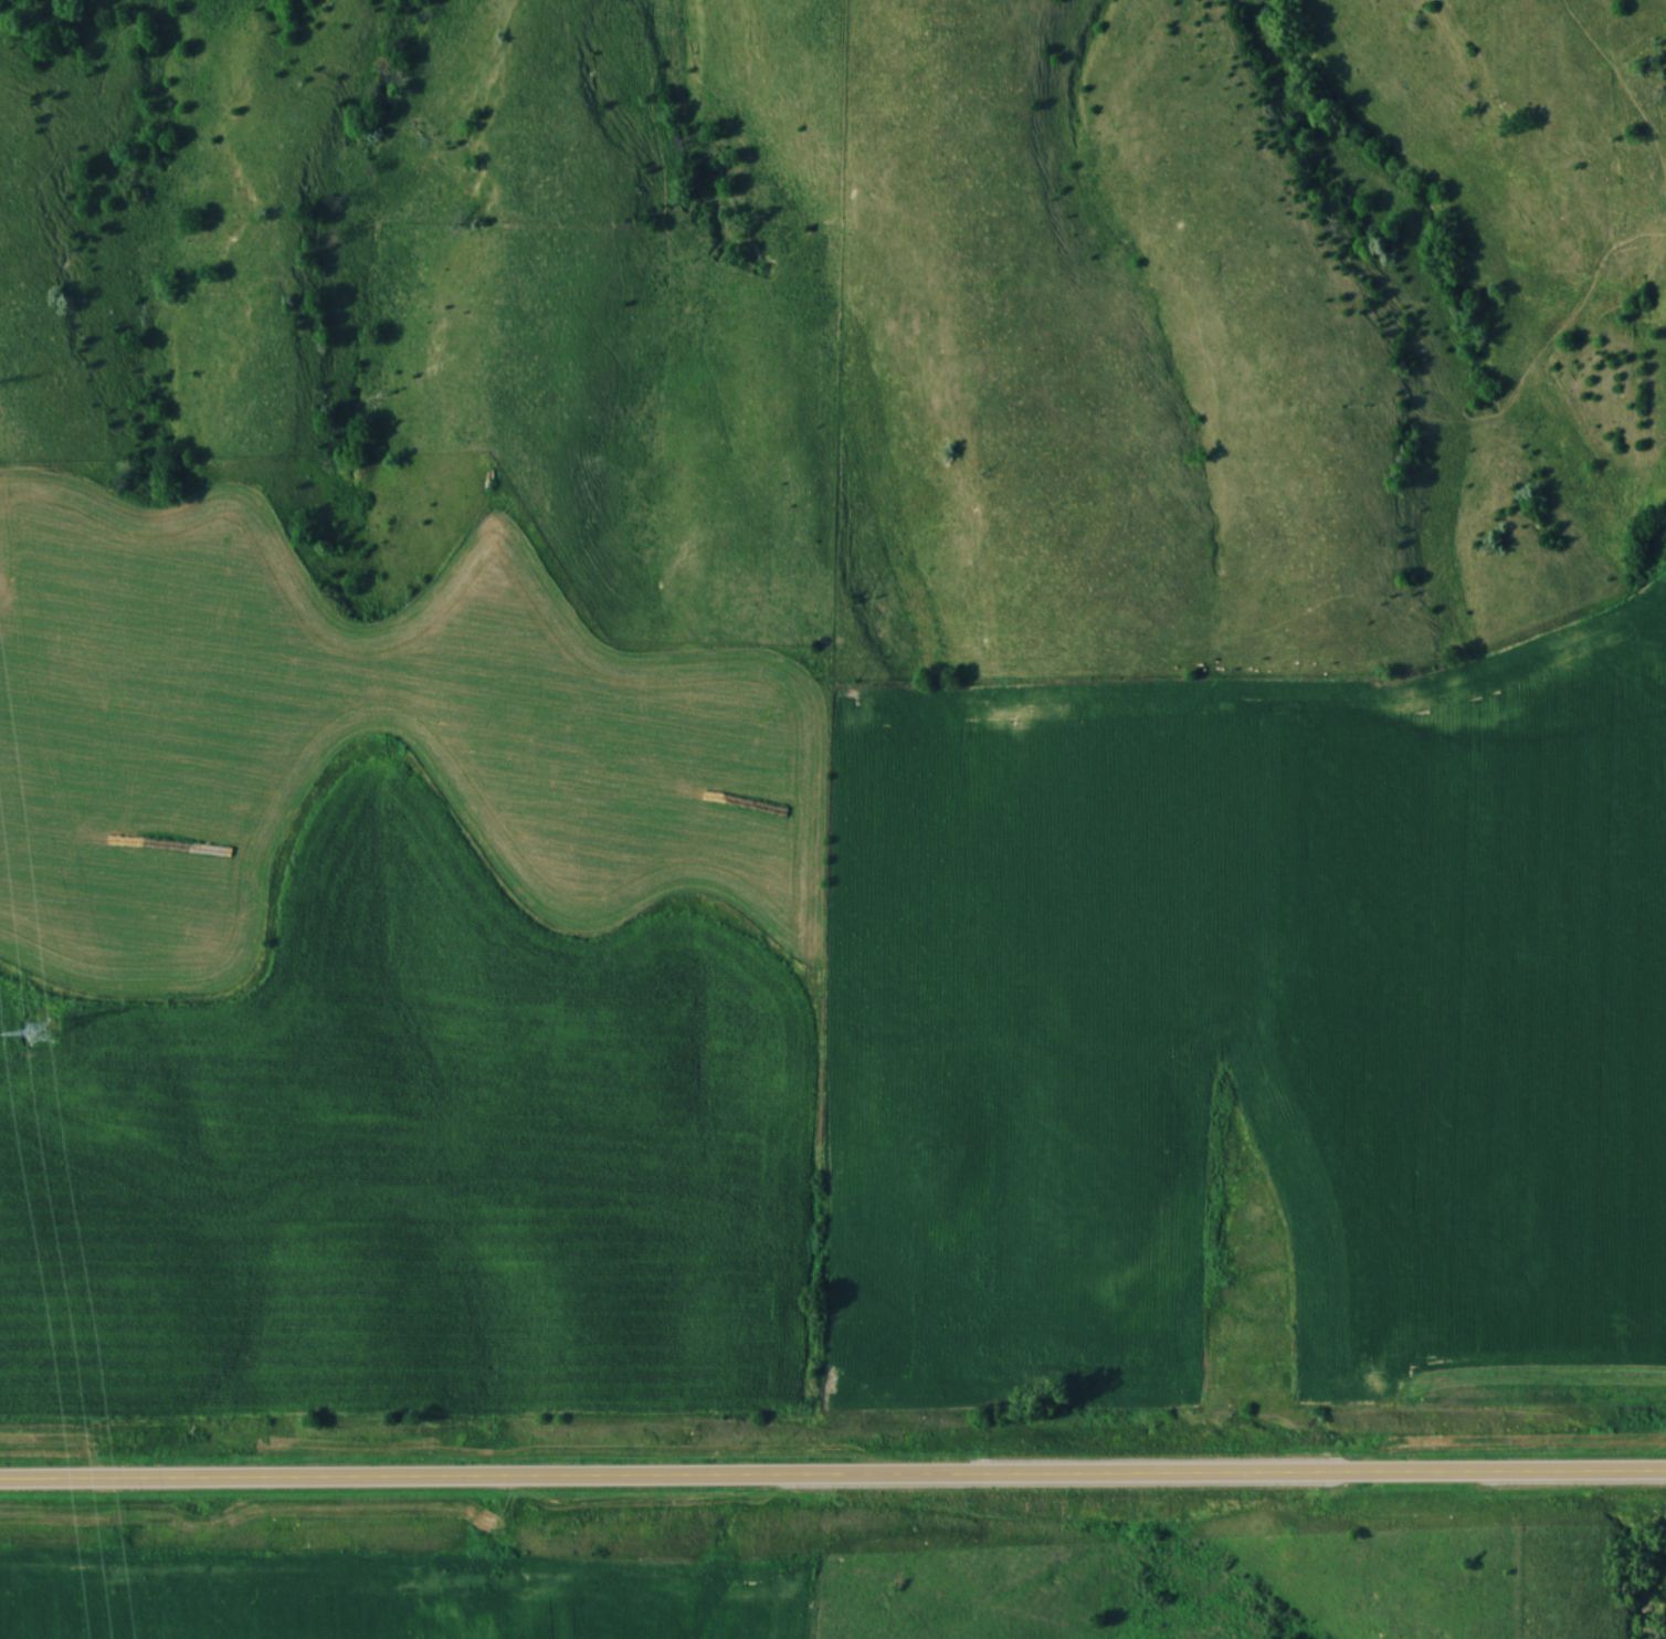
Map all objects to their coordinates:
power tower: (36, 1032)
road: (833, 1475)

